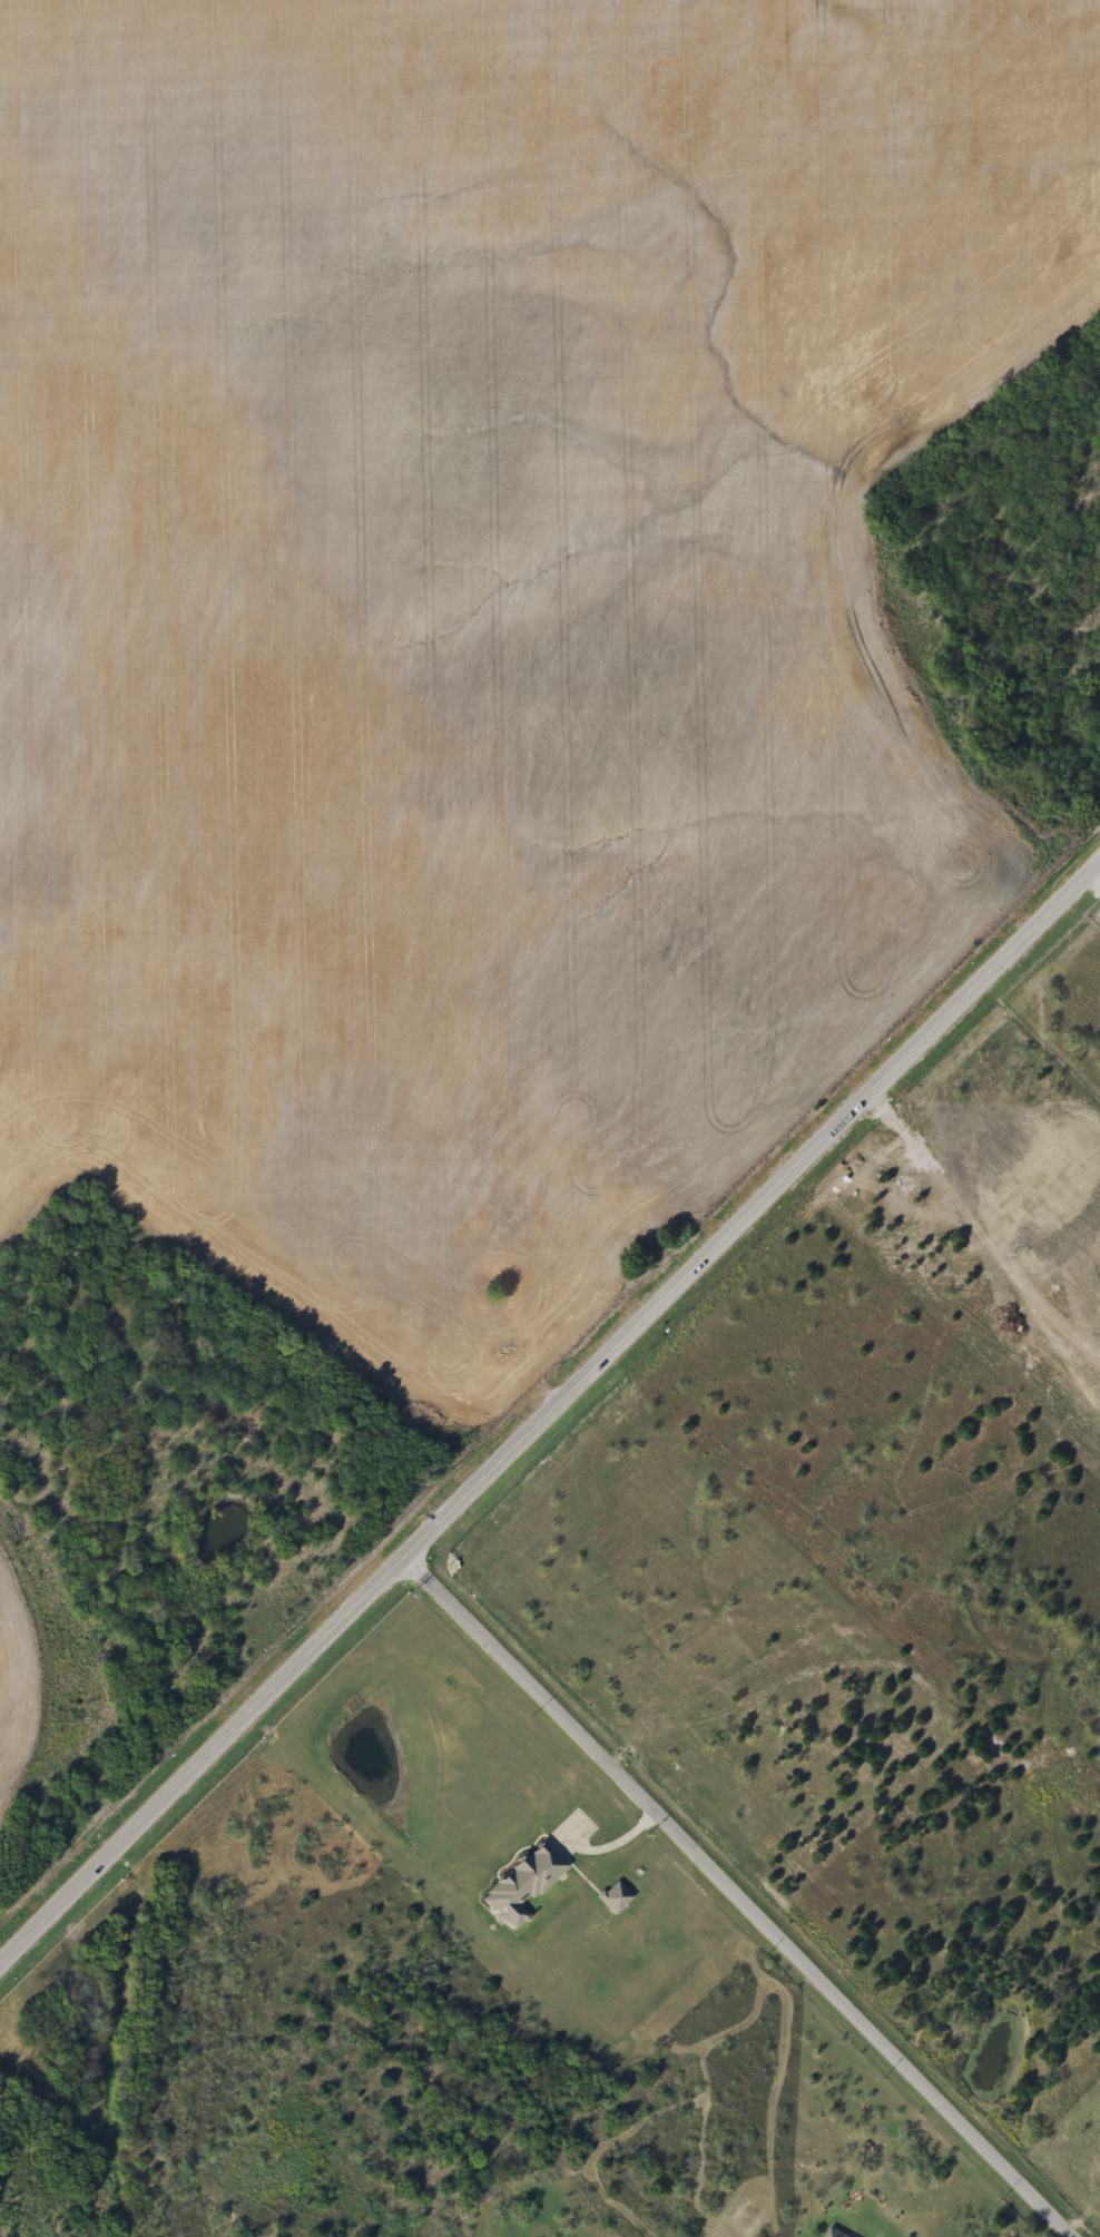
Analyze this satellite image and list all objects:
road: (547, 1404)
road: (615, 1845)
building: (523, 1884)
road: (735, 1895)
building: (616, 1897)

